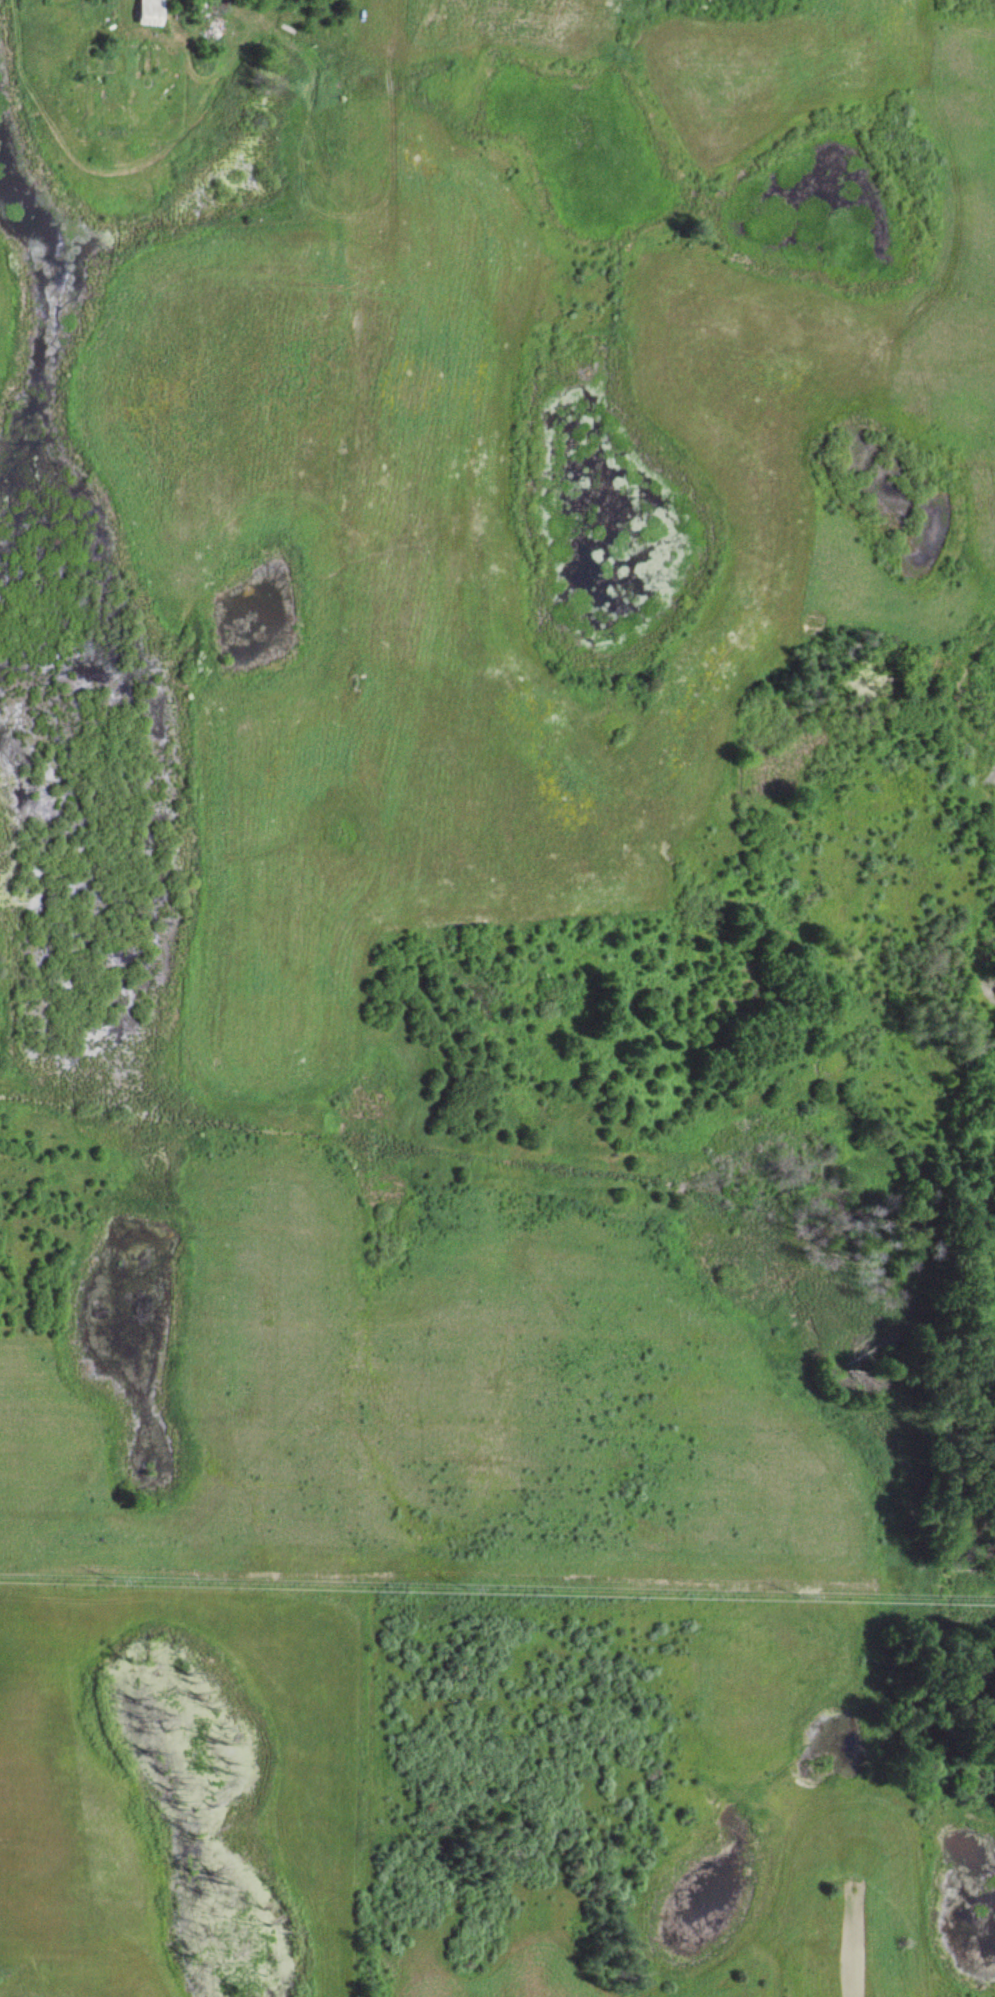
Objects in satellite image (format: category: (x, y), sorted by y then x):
building: (144, 12)

